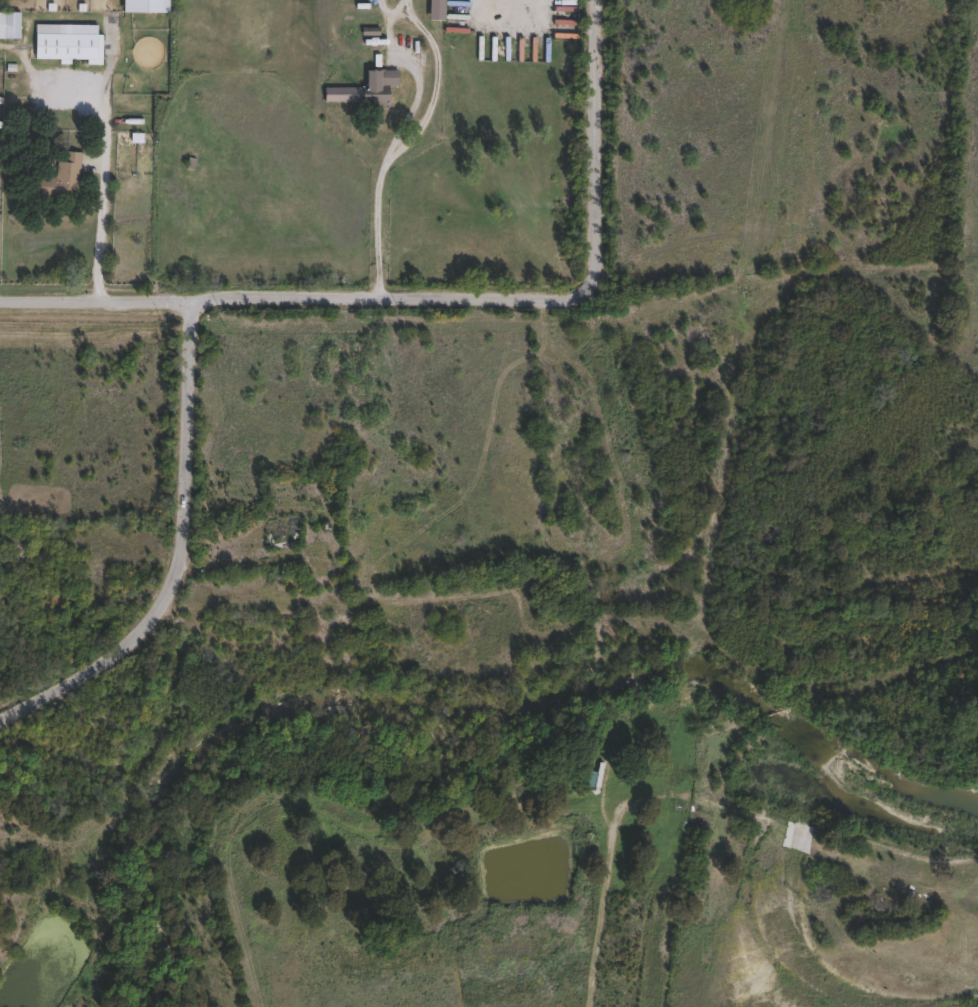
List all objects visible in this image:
building: (146, 7)
building: (437, 10)
building: (9, 24)
building: (67, 41)
building: (364, 91)
road: (393, 151)
road: (595, 151)
building: (58, 179)
road: (110, 187)
road: (383, 229)
road: (389, 301)
road: (96, 303)
road: (185, 559)
building: (582, 575)
building: (540, 663)

